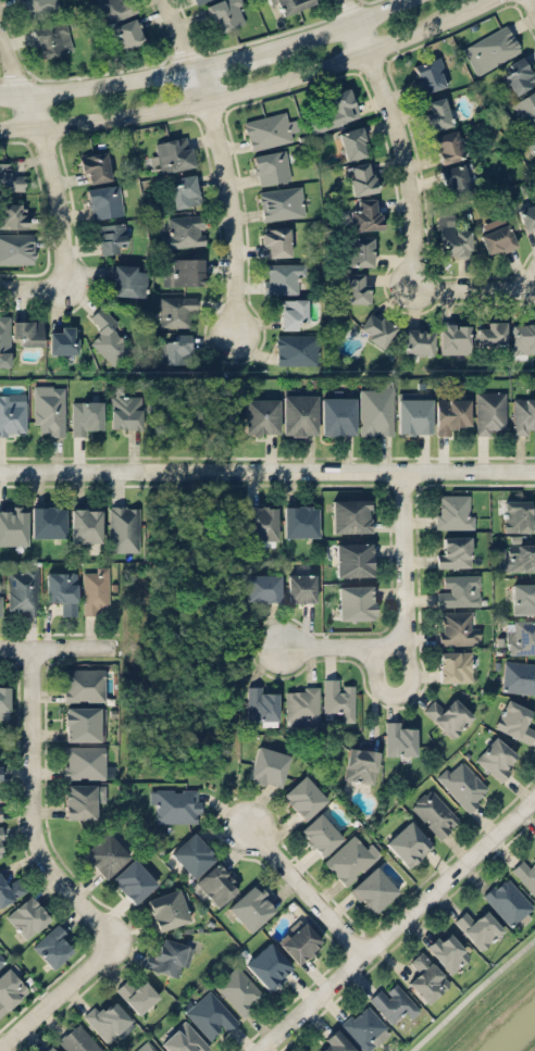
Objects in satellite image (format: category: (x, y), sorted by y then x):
building: (197, 0)
road: (533, 1)
building: (288, 5)
road: (472, 5)
building: (38, 7)
building: (112, 9)
building: (226, 13)
road: (334, 25)
building: (128, 33)
building: (51, 39)
building: (490, 48)
road: (232, 57)
building: (428, 73)
building: (519, 76)
road: (99, 84)
road: (234, 90)
building: (526, 108)
building: (334, 110)
building: (437, 113)
building: (269, 129)
building: (531, 140)
building: (352, 142)
building: (449, 146)
building: (172, 154)
road: (223, 164)
building: (95, 166)
building: (271, 166)
building: (10, 177)
building: (361, 177)
building: (456, 179)
road: (53, 185)
road: (416, 186)
building: (185, 190)
building: (104, 201)
building: (281, 202)
building: (13, 214)
building: (364, 214)
building: (527, 216)
building: (184, 230)
building: (111, 237)
building: (451, 237)
building: (497, 238)
building: (275, 241)
building: (16, 248)
building: (360, 250)
building: (185, 272)
building: (282, 276)
building: (126, 279)
building: (356, 287)
building: (177, 311)
building: (293, 312)
building: (375, 327)
building: (27, 331)
building: (492, 333)
building: (108, 336)
building: (523, 336)
building: (455, 338)
building: (4, 339)
building: (63, 339)
building: (418, 341)
building: (175, 348)
building: (298, 349)
building: (49, 408)
building: (124, 408)
building: (375, 410)
building: (490, 412)
building: (451, 413)
building: (12, 414)
building: (298, 414)
building: (413, 414)
building: (523, 414)
building: (260, 415)
building: (337, 415)
building: (86, 416)
road: (267, 471)
building: (453, 511)
building: (351, 514)
building: (518, 515)
building: (300, 520)
building: (49, 521)
building: (261, 522)
building: (13, 524)
building: (86, 524)
building: (123, 527)
building: (453, 551)
building: (515, 556)
building: (353, 559)
building: (262, 587)
building: (300, 587)
building: (96, 589)
building: (456, 589)
building: (61, 590)
building: (22, 591)
building: (523, 597)
building: (0, 601)
building: (356, 601)
road: (405, 612)
building: (456, 627)
building: (521, 636)
road: (50, 649)
building: (455, 665)
building: (519, 676)
building: (83, 684)
road: (401, 691)
building: (338, 697)
building: (3, 698)
building: (260, 704)
building: (301, 705)
building: (448, 714)
building: (515, 720)
building: (83, 723)
building: (399, 738)
building: (496, 758)
building: (86, 762)
building: (360, 764)
building: (267, 765)
building: (0, 772)
building: (462, 784)
building: (304, 794)
building: (79, 800)
building: (175, 804)
road: (32, 806)
building: (434, 812)
building: (0, 815)
building: (320, 834)
building: (1, 842)
building: (408, 842)
building: (105, 853)
building: (192, 853)
building: (350, 859)
building: (526, 874)
building: (133, 880)
building: (217, 884)
building: (9, 888)
building: (373, 888)
road: (308, 891)
building: (508, 900)
building: (251, 906)
building: (167, 909)
building: (27, 916)
road: (397, 925)
building: (478, 928)
building: (300, 941)
building: (53, 944)
building: (447, 950)
building: (169, 956)
building: (1, 960)
building: (269, 965)
building: (425, 976)
building: (10, 988)
building: (239, 990)
building: (137, 993)
road: (55, 994)
road: (472, 994)
building: (393, 1001)
building: (209, 1013)
building: (108, 1021)
building: (364, 1027)
river: (519, 1037)
building: (78, 1039)
building: (184, 1039)
building: (334, 1043)
building: (52, 1049)
building: (150, 1049)

